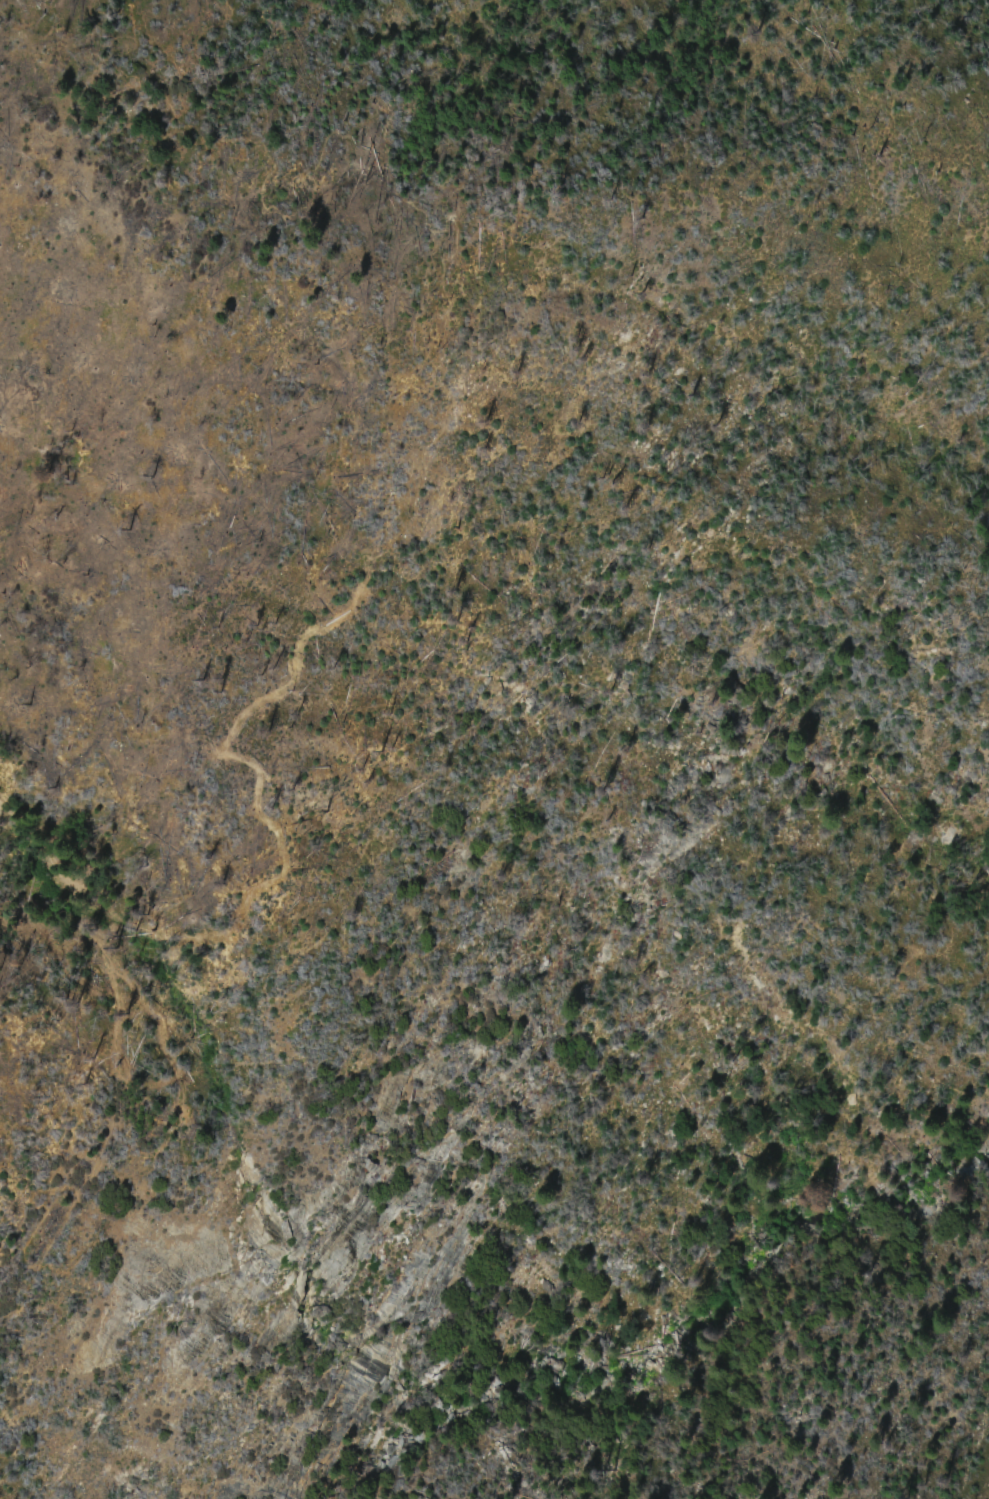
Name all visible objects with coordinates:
road: (94, 970)

